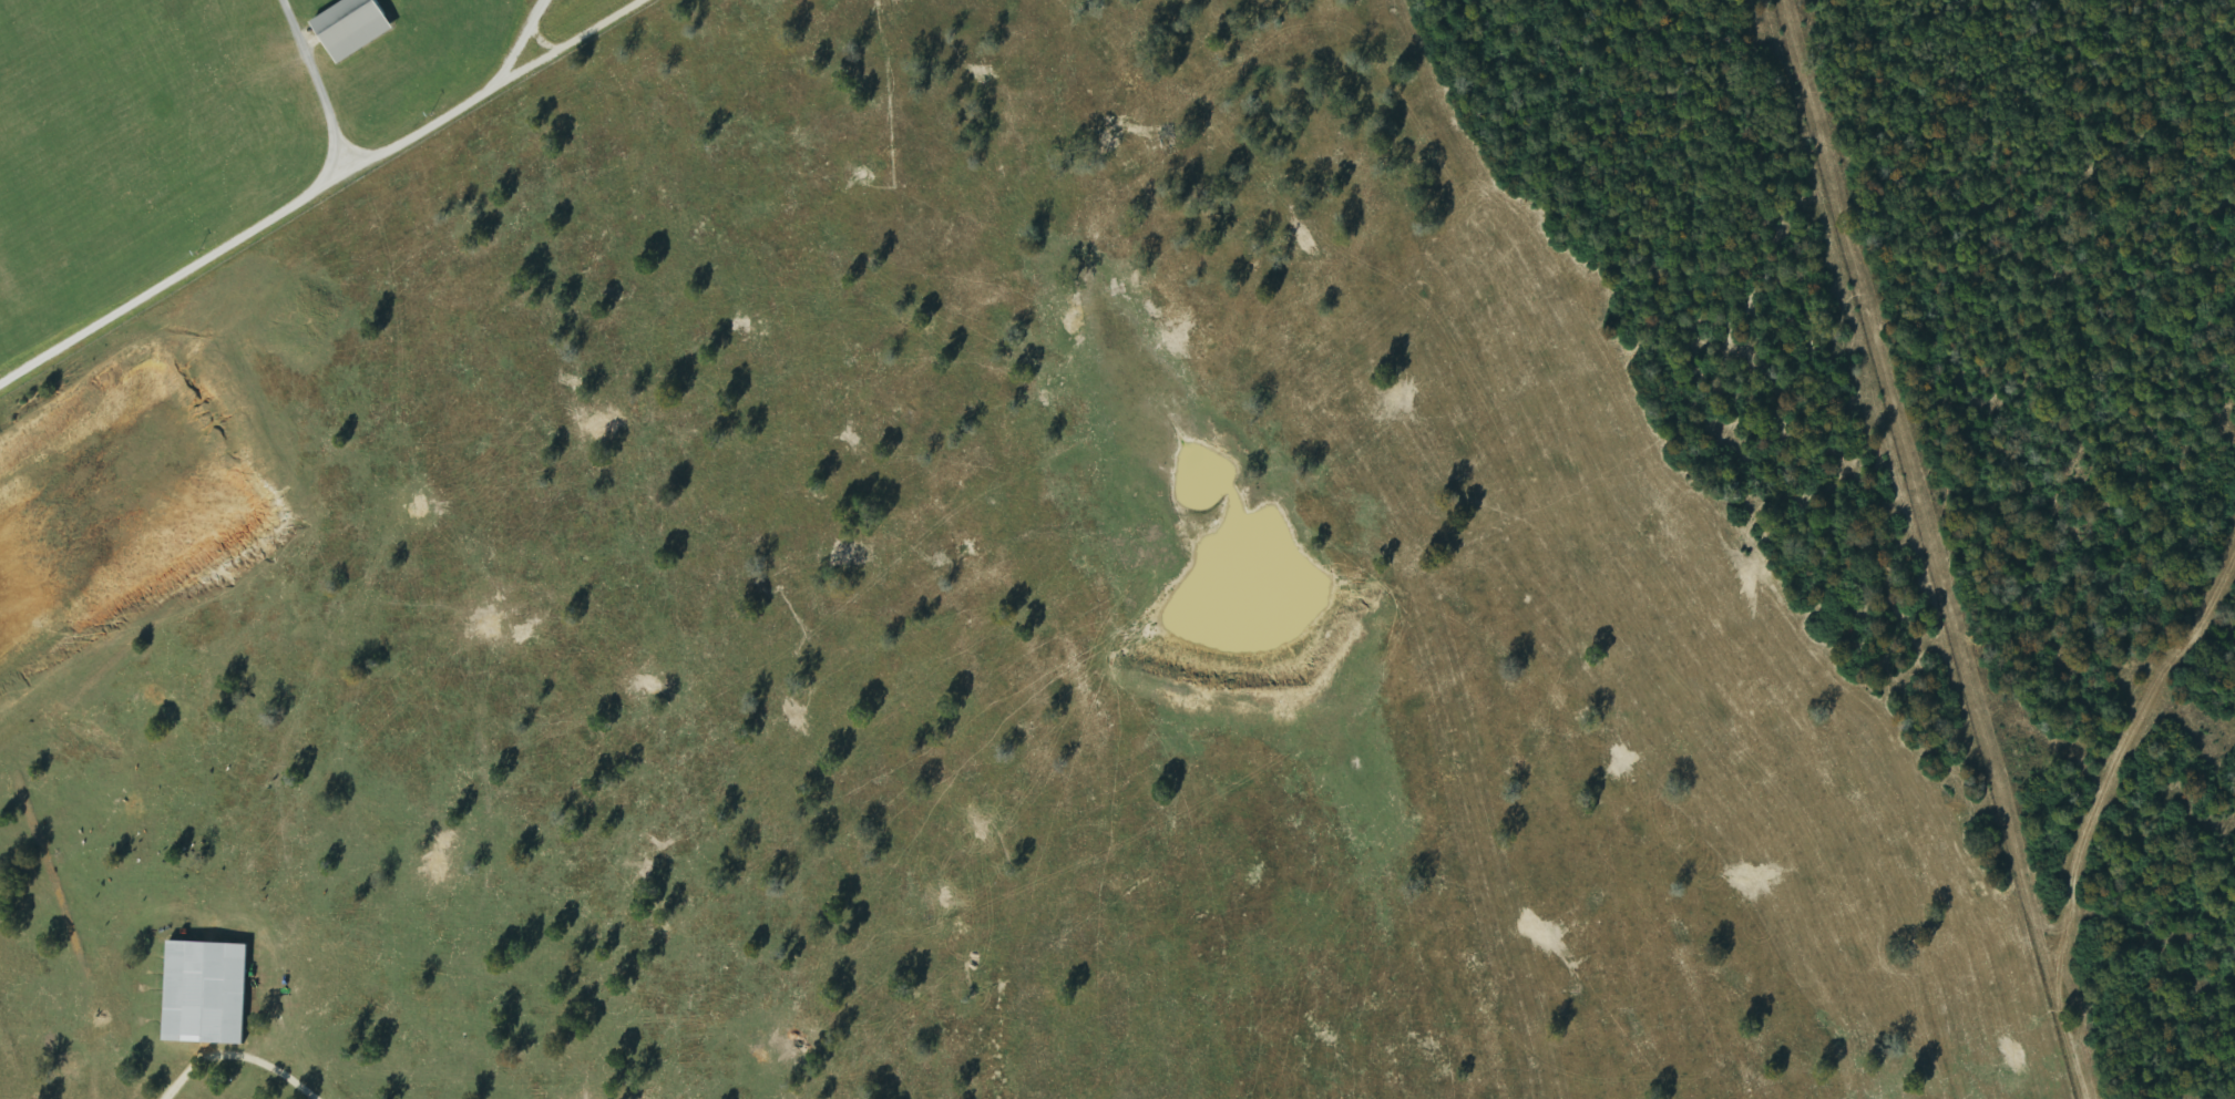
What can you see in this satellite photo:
building: (357, 27)
road: (239, 233)
building: (211, 994)

